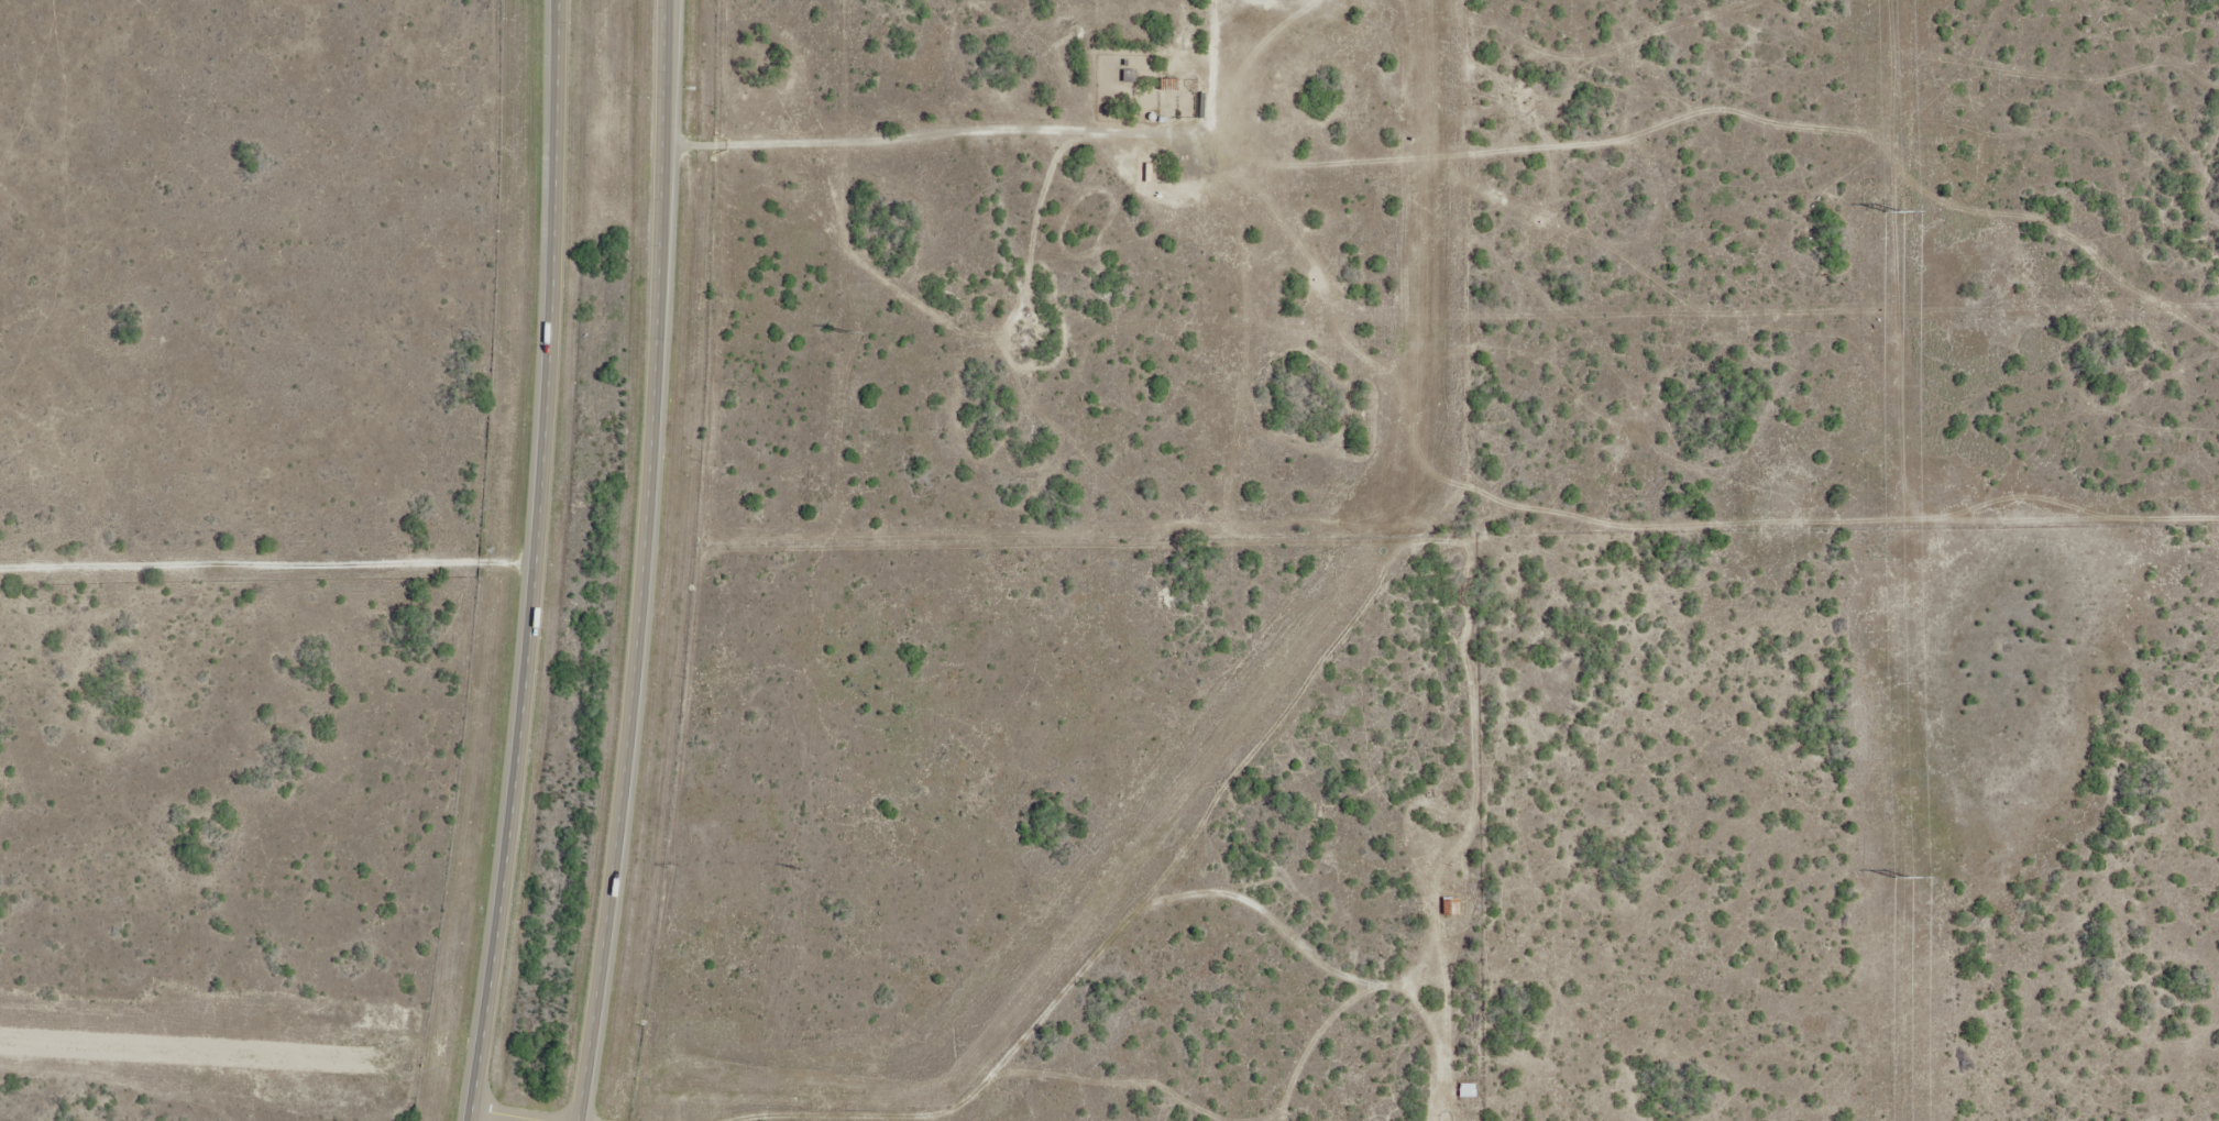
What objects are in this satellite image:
power tower: (1894, 210)
power tower: (846, 332)
road: (648, 561)
road: (545, 562)
road: (272, 571)
power tower: (801, 870)
power tower: (1901, 876)
building: (1452, 905)
building: (1470, 1089)
road: (515, 1114)

